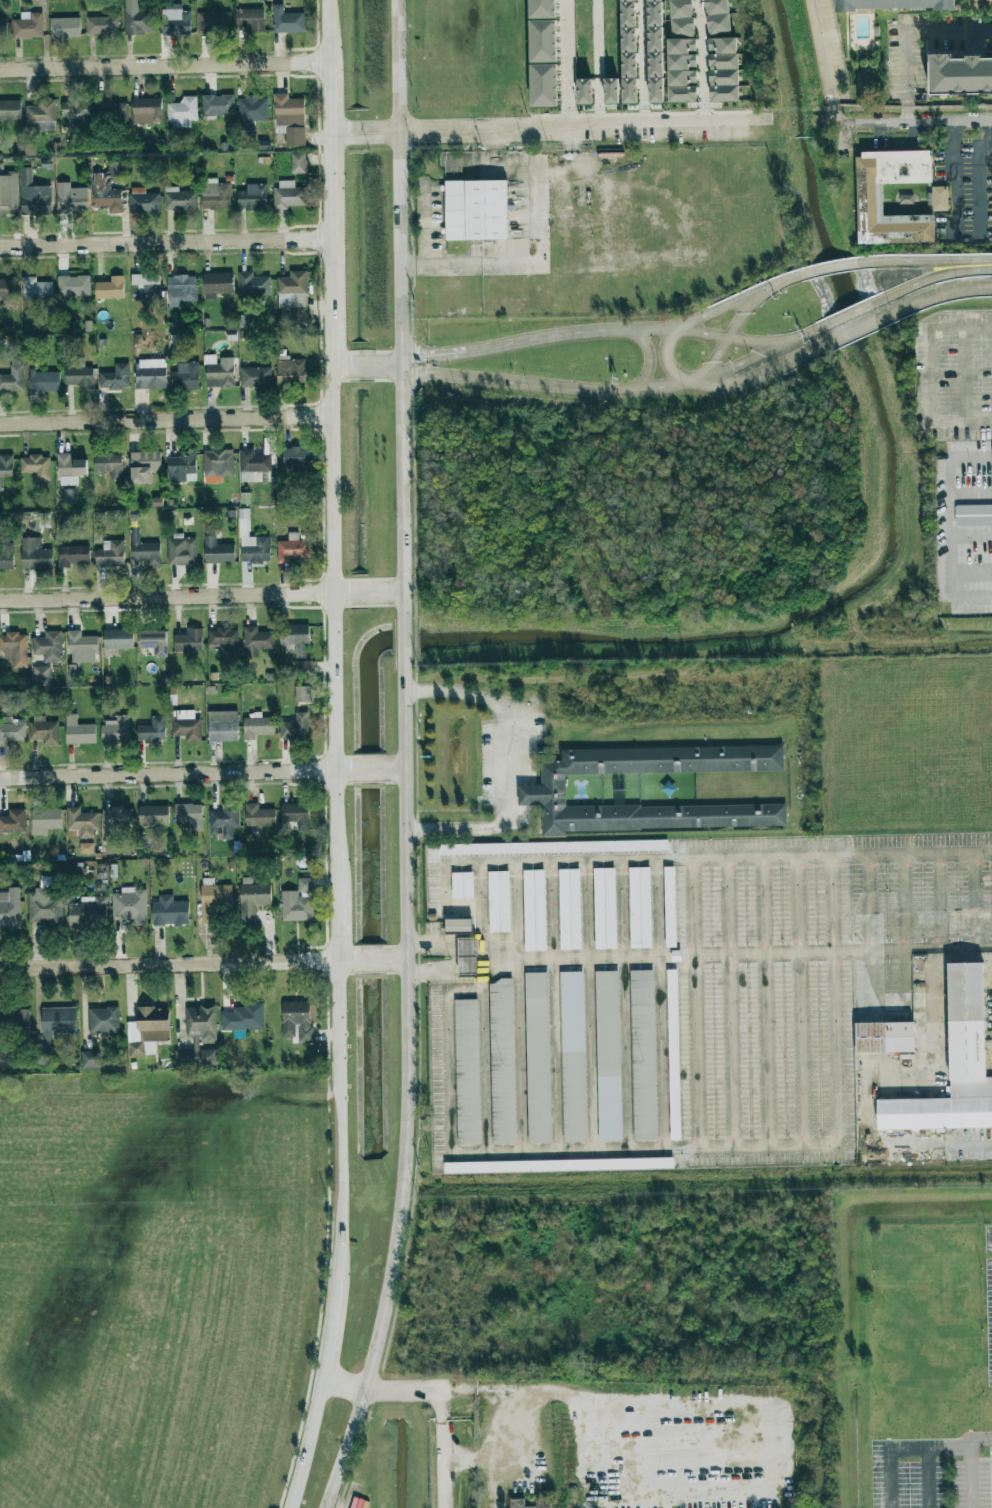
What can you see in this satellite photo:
building: (627, 0)
building: (894, 4)
building: (541, 8)
building: (628, 14)
building: (716, 16)
building: (250, 19)
building: (681, 19)
building: (287, 20)
building: (138, 21)
building: (177, 23)
building: (213, 23)
building: (28, 26)
building: (102, 26)
building: (3, 27)
building: (65, 27)
road: (905, 35)
road: (325, 36)
building: (628, 39)
building: (542, 41)
building: (655, 51)
road: (699, 53)
road: (564, 54)
road: (824, 62)
building: (628, 65)
road: (162, 68)
building: (723, 69)
building: (682, 70)
building: (958, 71)
building: (543, 85)
building: (584, 91)
building: (611, 91)
road: (326, 103)
building: (218, 105)
building: (10, 110)
building: (112, 111)
building: (146, 111)
building: (76, 112)
building: (182, 112)
building: (251, 112)
building: (41, 115)
road: (704, 115)
building: (290, 118)
road: (565, 118)
road: (914, 123)
road: (597, 127)
road: (376, 132)
road: (495, 140)
road: (495, 160)
building: (298, 163)
road: (953, 175)
road: (982, 175)
building: (8, 192)
building: (215, 195)
building: (289, 195)
building: (34, 196)
building: (106, 197)
building: (252, 197)
building: (867, 198)
building: (941, 198)
building: (906, 199)
building: (179, 200)
building: (72, 202)
building: (143, 202)
road: (536, 207)
building: (474, 210)
road: (329, 216)
road: (431, 229)
road: (165, 247)
road: (869, 261)
road: (439, 269)
building: (253, 284)
building: (73, 285)
building: (145, 285)
building: (217, 285)
building: (7, 288)
building: (110, 288)
building: (181, 289)
building: (36, 290)
building: (292, 290)
road: (951, 291)
road: (881, 299)
road: (400, 311)
road: (863, 327)
road: (330, 332)
road: (610, 332)
road: (724, 337)
road: (725, 340)
road: (433, 359)
road: (648, 359)
road: (665, 364)
road: (735, 364)
road: (366, 365)
building: (290, 370)
building: (218, 372)
building: (150, 374)
building: (186, 376)
road: (757, 376)
building: (13, 377)
building: (80, 377)
building: (255, 377)
building: (116, 378)
building: (44, 381)
road: (548, 387)
road: (165, 421)
building: (296, 456)
building: (218, 463)
building: (252, 464)
building: (109, 465)
building: (36, 466)
building: (144, 466)
building: (182, 467)
building: (5, 468)
building: (70, 469)
building: (69, 496)
road: (949, 513)
building: (972, 516)
building: (292, 548)
building: (255, 549)
building: (144, 550)
building: (181, 550)
building: (218, 551)
building: (35, 554)
building: (110, 554)
building: (73, 555)
building: (6, 556)
road: (201, 597)
road: (332, 627)
building: (295, 638)
road: (404, 638)
building: (118, 639)
building: (224, 639)
building: (257, 639)
building: (188, 641)
building: (154, 642)
road: (915, 644)
building: (48, 647)
building: (82, 647)
building: (15, 648)
building: (301, 668)
building: (41, 676)
building: (302, 694)
building: (186, 725)
building: (222, 726)
building: (258, 726)
building: (295, 727)
building: (115, 729)
building: (12, 730)
building: (154, 730)
building: (44, 731)
building: (78, 731)
road: (510, 762)
road: (369, 771)
road: (397, 771)
road: (174, 775)
building: (540, 794)
building: (153, 815)
building: (189, 815)
building: (258, 815)
building: (296, 815)
building: (117, 820)
building: (13, 821)
building: (45, 821)
building: (224, 821)
building: (81, 822)
building: (552, 847)
building: (86, 848)
road: (696, 858)
building: (462, 885)
building: (252, 898)
building: (214, 899)
road: (974, 900)
building: (499, 901)
road: (939, 901)
building: (298, 902)
road: (902, 902)
road: (866, 903)
building: (130, 905)
building: (43, 906)
building: (640, 907)
building: (669, 907)
road: (463, 908)
building: (604, 908)
building: (569, 909)
building: (534, 910)
building: (9, 912)
building: (169, 912)
building: (88, 913)
road: (336, 925)
building: (458, 925)
road: (444, 945)
road: (493, 954)
road: (748, 954)
building: (467, 957)
road: (369, 961)
road: (398, 961)
road: (342, 962)
road: (168, 965)
road: (456, 973)
parking lot: (674, 992)
road: (833, 1000)
road: (764, 1001)
road: (798, 1001)
road: (729, 1002)
road: (693, 1003)
road: (659, 1004)
road: (623, 1005)
road: (552, 1006)
road: (587, 1006)
road: (518, 1007)
road: (482, 1008)
building: (294, 1017)
building: (243, 1018)
building: (14, 1019)
building: (103, 1020)
building: (57, 1024)
building: (200, 1024)
building: (147, 1031)
building: (884, 1040)
building: (642, 1055)
building: (673, 1055)
building: (571, 1056)
building: (607, 1056)
building: (195, 1058)
building: (536, 1058)
building: (5, 1059)
building: (90, 1060)
building: (501, 1061)
road: (444, 1064)
building: (954, 1067)
building: (466, 1072)
road: (408, 1086)
road: (338, 1132)
road: (979, 1141)
road: (641, 1150)
building: (558, 1166)
road: (327, 1341)
road: (343, 1385)
road: (457, 1396)
road: (892, 1397)
road: (618, 1400)
road: (444, 1412)
parking lot: (931, 1438)
road: (307, 1444)
road: (931, 1445)
road: (971, 1464)
road: (929, 1477)
building: (516, 1502)
road: (349, 1504)
road: (331, 1507)

